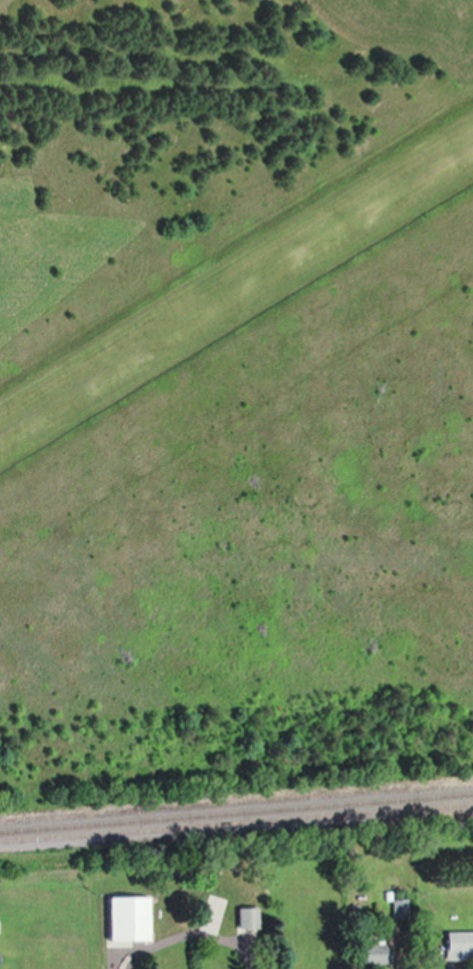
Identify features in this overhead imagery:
airport runway: (236, 296)
airport: (253, 440)
railway: (236, 812)
railway: (236, 822)
building: (128, 918)
building: (248, 920)
building: (459, 943)
building: (376, 953)

